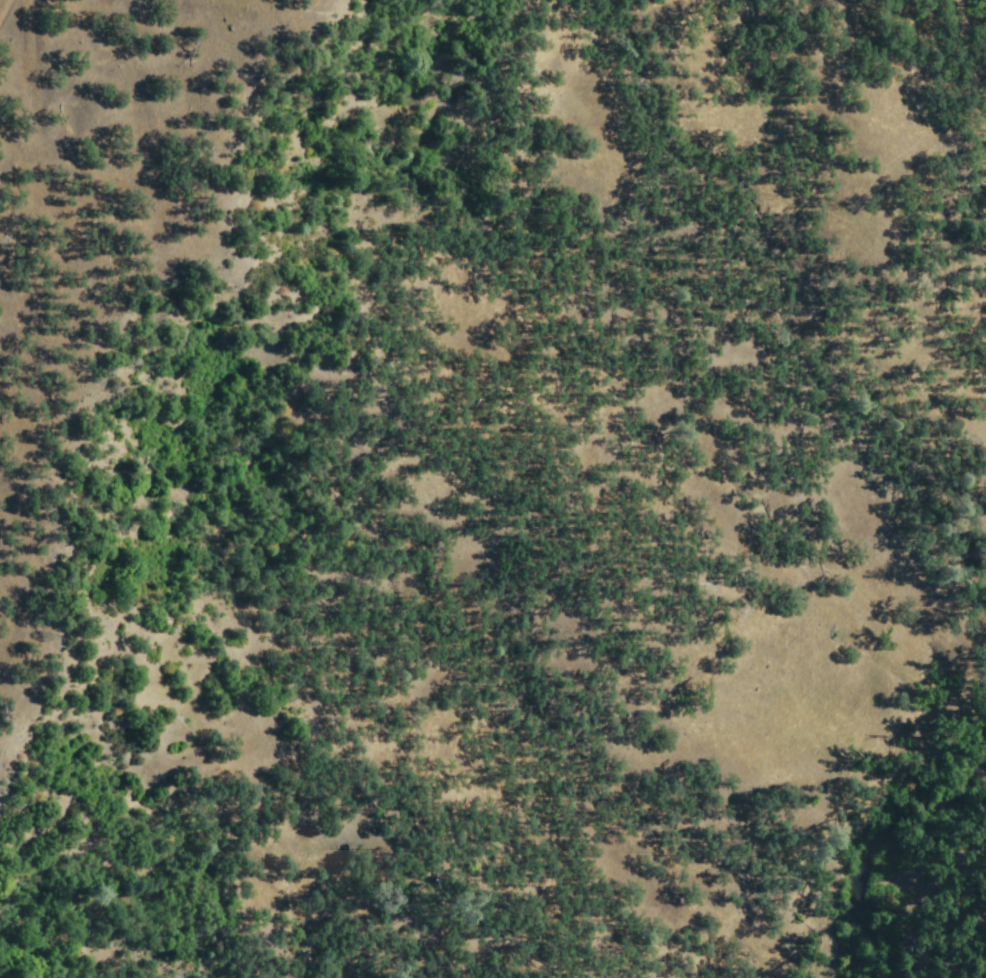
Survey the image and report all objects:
road: (1, 2)

